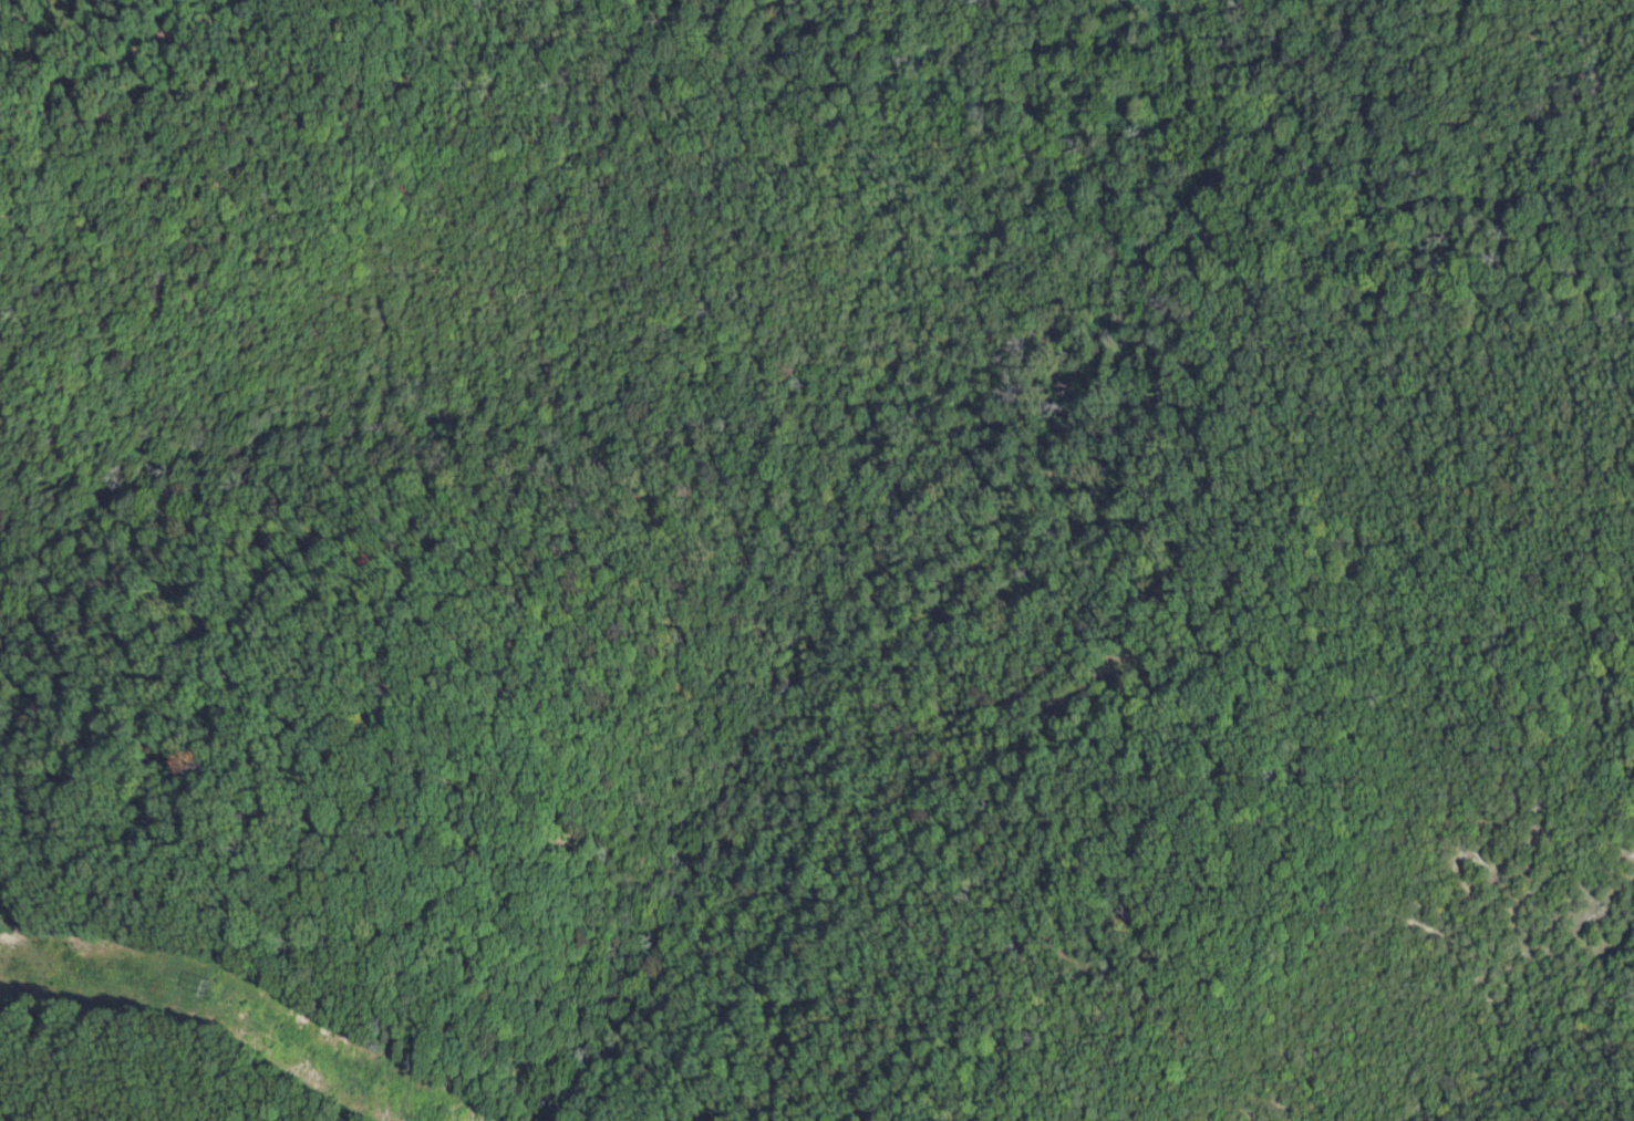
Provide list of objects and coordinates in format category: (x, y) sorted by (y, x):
power tower: (215, 988)

